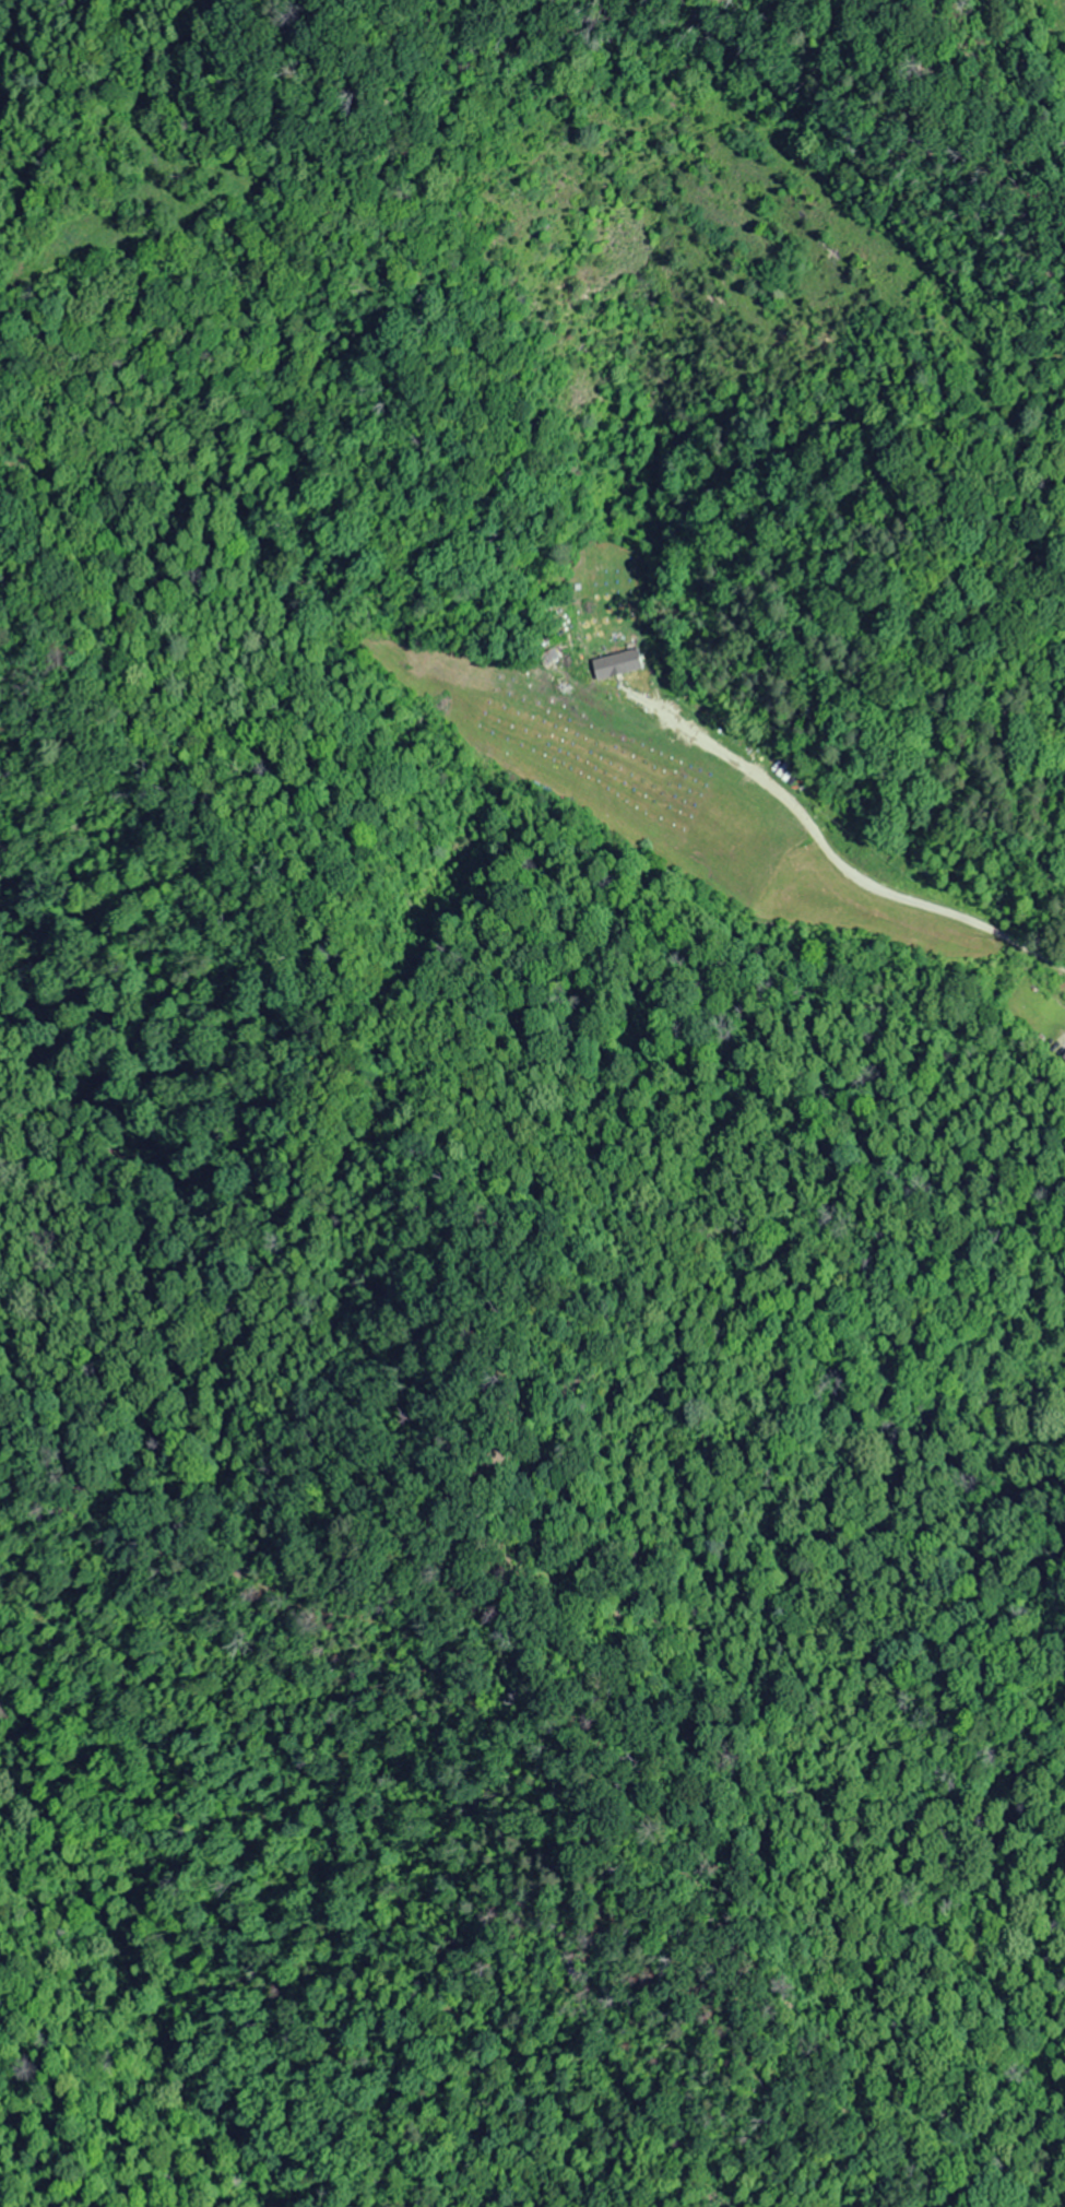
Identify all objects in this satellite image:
building: (629, 662)
road: (933, 914)

